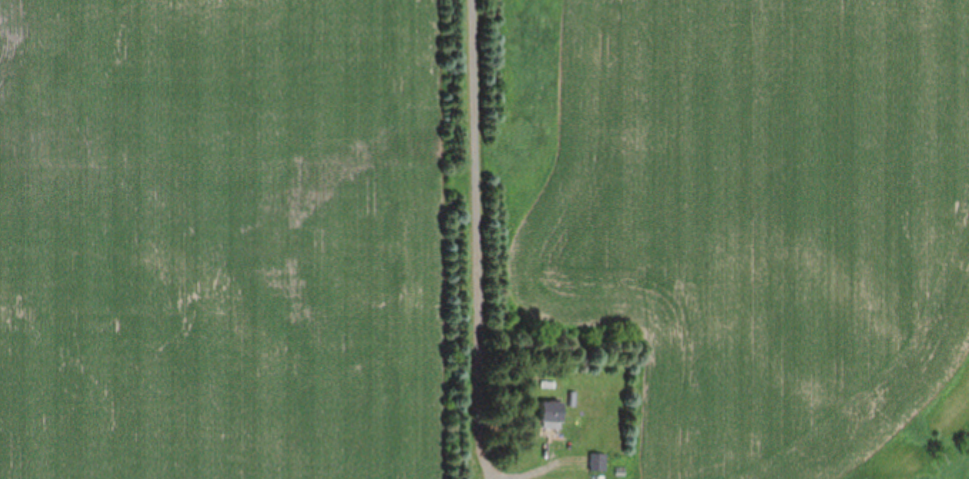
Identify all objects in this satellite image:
road: (480, 239)
building: (551, 410)
building: (598, 461)

